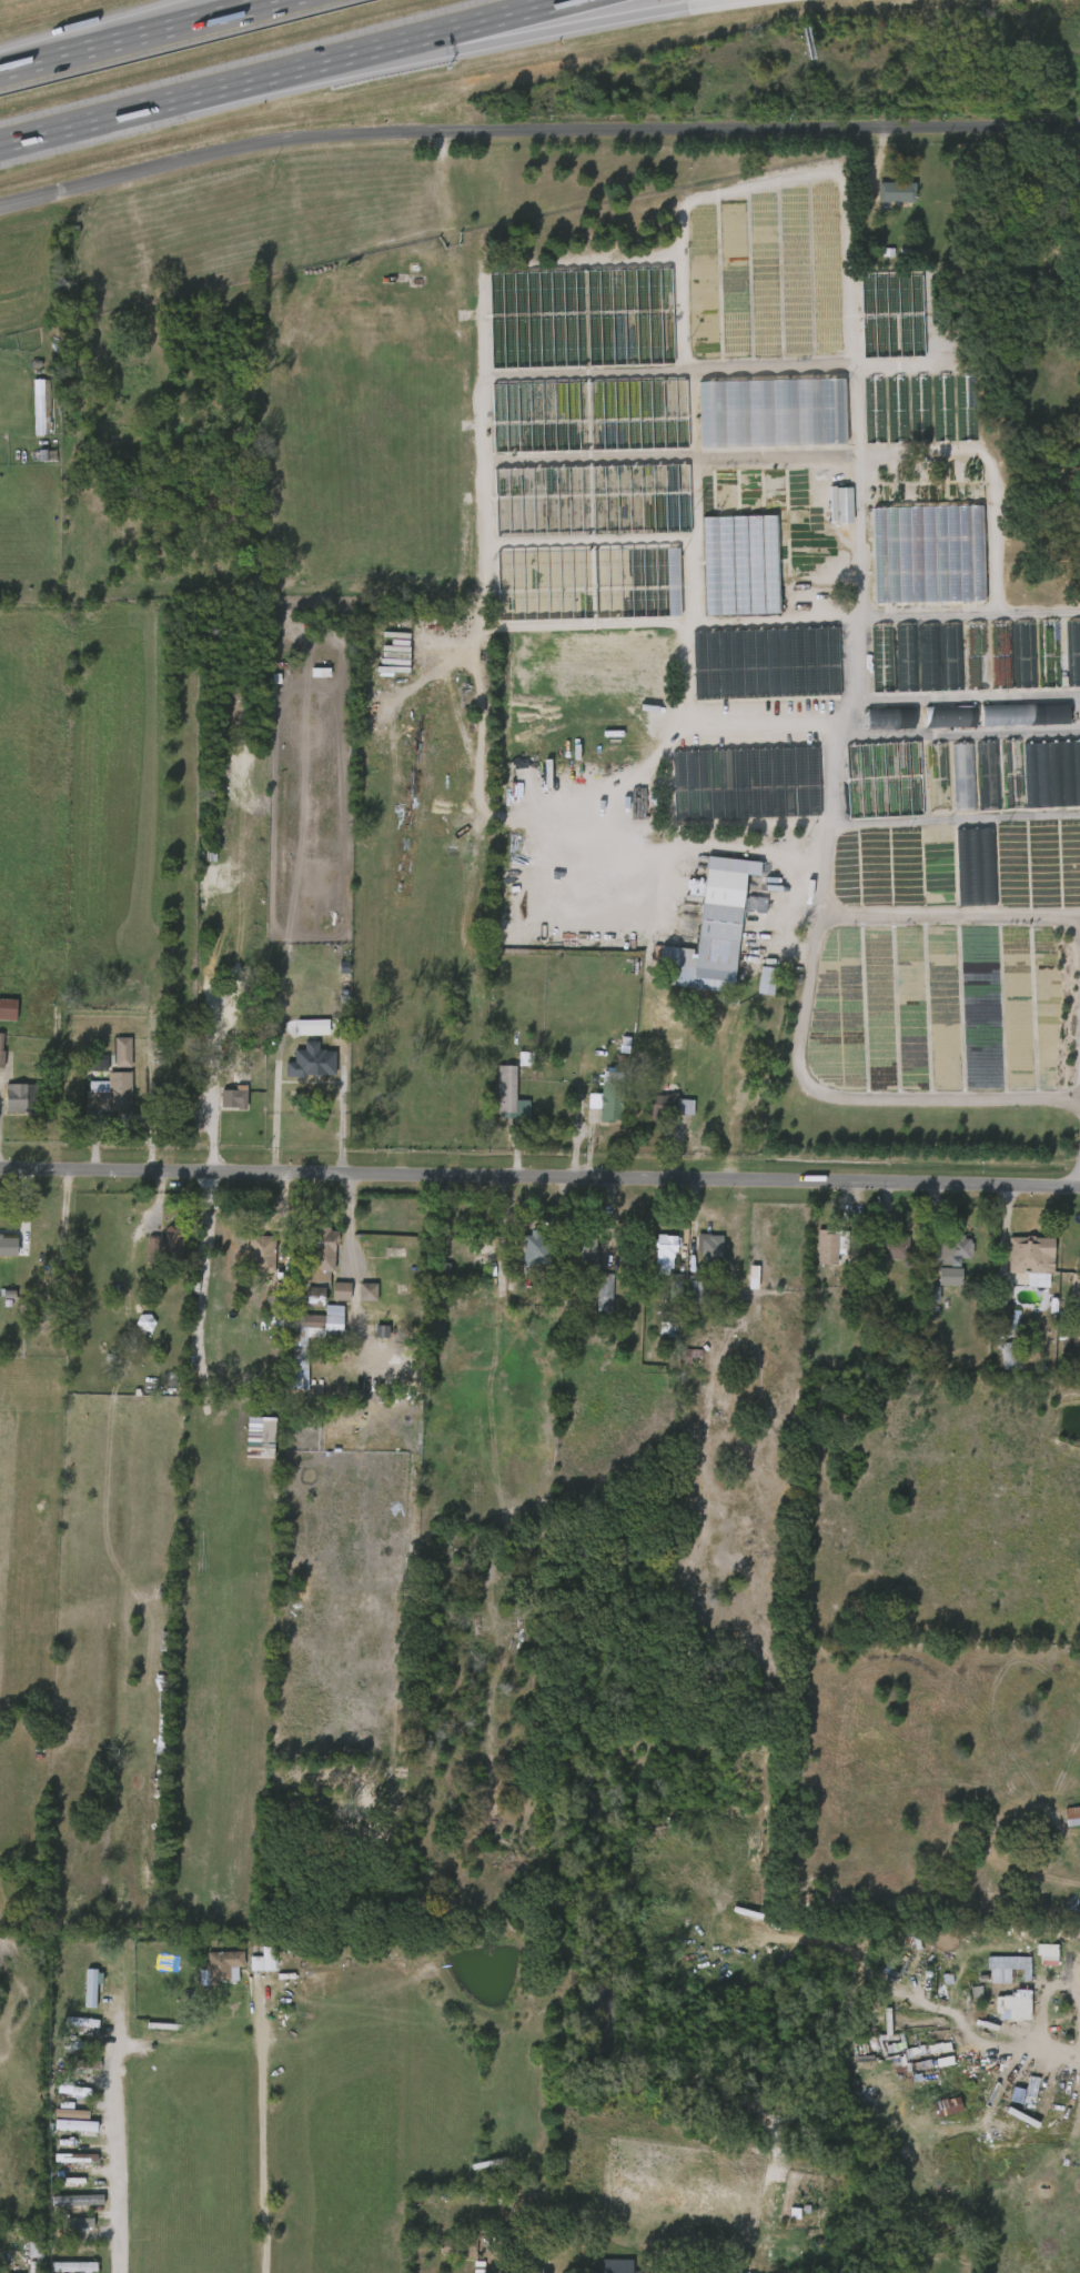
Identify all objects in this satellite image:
road: (103, 32)
road: (137, 34)
road: (475, 40)
road: (397, 41)
road: (118, 112)
road: (535, 130)
building: (1067, 188)
building: (892, 193)
building: (1072, 274)
building: (878, 323)
building: (567, 325)
building: (920, 408)
building: (966, 408)
building: (943, 409)
building: (875, 410)
building: (898, 410)
building: (773, 412)
building: (28, 414)
building: (589, 415)
building: (952, 435)
building: (592, 500)
building: (838, 503)
building: (727, 572)
road: (751, 621)
building: (1073, 652)
building: (1049, 653)
building: (1000, 655)
building: (1025, 655)
building: (951, 656)
building: (976, 656)
building: (907, 657)
building: (930, 657)
building: (884, 658)
building: (767, 662)
building: (961, 664)
building: (1037, 713)
building: (967, 715)
building: (898, 716)
building: (1011, 722)
building: (936, 724)
building: (875, 725)
building: (1052, 773)
building: (1013, 774)
building: (963, 775)
building: (989, 775)
building: (938, 777)
building: (885, 778)
building: (746, 782)
road: (953, 821)
building: (977, 864)
road: (948, 916)
building: (708, 938)
building: (767, 980)
building: (753, 987)
road: (806, 988)
building: (8, 1004)
building: (1, 1048)
building: (122, 1052)
building: (110, 1058)
building: (299, 1068)
building: (508, 1088)
building: (110, 1094)
building: (20, 1097)
building: (234, 1097)
building: (496, 1102)
road: (727, 1102)
building: (607, 1104)
building: (221, 1105)
building: (665, 1106)
road: (273, 1120)
road: (341, 1124)
road: (582, 1130)
road: (539, 1179)
road: (349, 1226)
building: (166, 1244)
building: (9, 1245)
building: (891, 1245)
building: (586, 1246)
building: (837, 1247)
building: (534, 1248)
building: (710, 1248)
building: (666, 1249)
building: (946, 1249)
building: (263, 1253)
building: (814, 1254)
building: (881, 1254)
building: (521, 1255)
building: (696, 1256)
building: (574, 1257)
building: (652, 1257)
building: (1030, 1257)
building: (249, 1260)
building: (306, 1261)
building: (322, 1264)
building: (936, 1283)
building: (698, 1288)
building: (605, 1293)
building: (684, 1296)
building: (327, 1298)
building: (354, 1298)
building: (592, 1300)
building: (919, 1300)
building: (301, 1303)
building: (559, 1304)
building: (275, 1310)
building: (323, 1324)
building: (997, 1329)
building: (1006, 1356)
building: (417, 1367)
building: (1071, 1816)
building: (1063, 1822)
building: (264, 1960)
building: (221, 1967)
building: (251, 1967)
building: (1007, 1969)
building: (91, 1988)
building: (79, 1993)
building: (1000, 2012)
road: (1017, 2033)
building: (923, 2050)
building: (915, 2055)
building: (67, 2069)
building: (1011, 2096)
building: (933, 2112)
road: (129, 2114)
building: (69, 2116)
building: (57, 2122)
road: (273, 2136)
building: (75, 2160)
building: (62, 2163)
building: (502, 2180)
building: (63, 2206)
building: (72, 2222)
building: (63, 2230)
building: (464, 2245)
building: (446, 2252)
building: (22, 2255)
building: (704, 2265)
building: (3, 2266)
building: (77, 2266)
building: (617, 2266)
building: (595, 2269)
building: (61, 2270)
building: (534, 2270)

